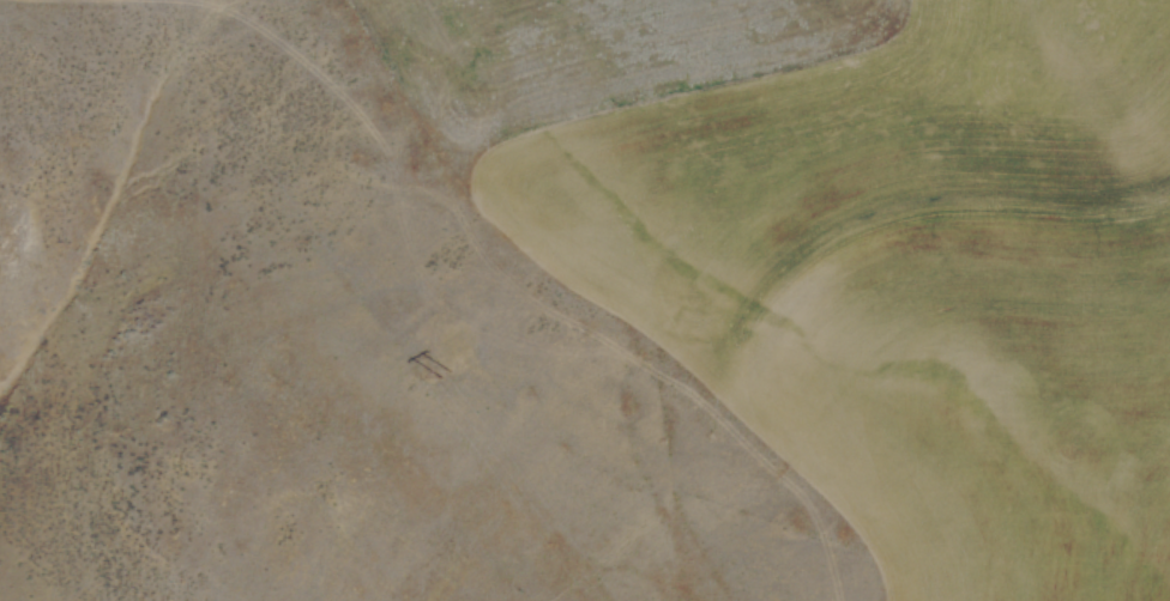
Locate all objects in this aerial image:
power tower: (451, 374)

